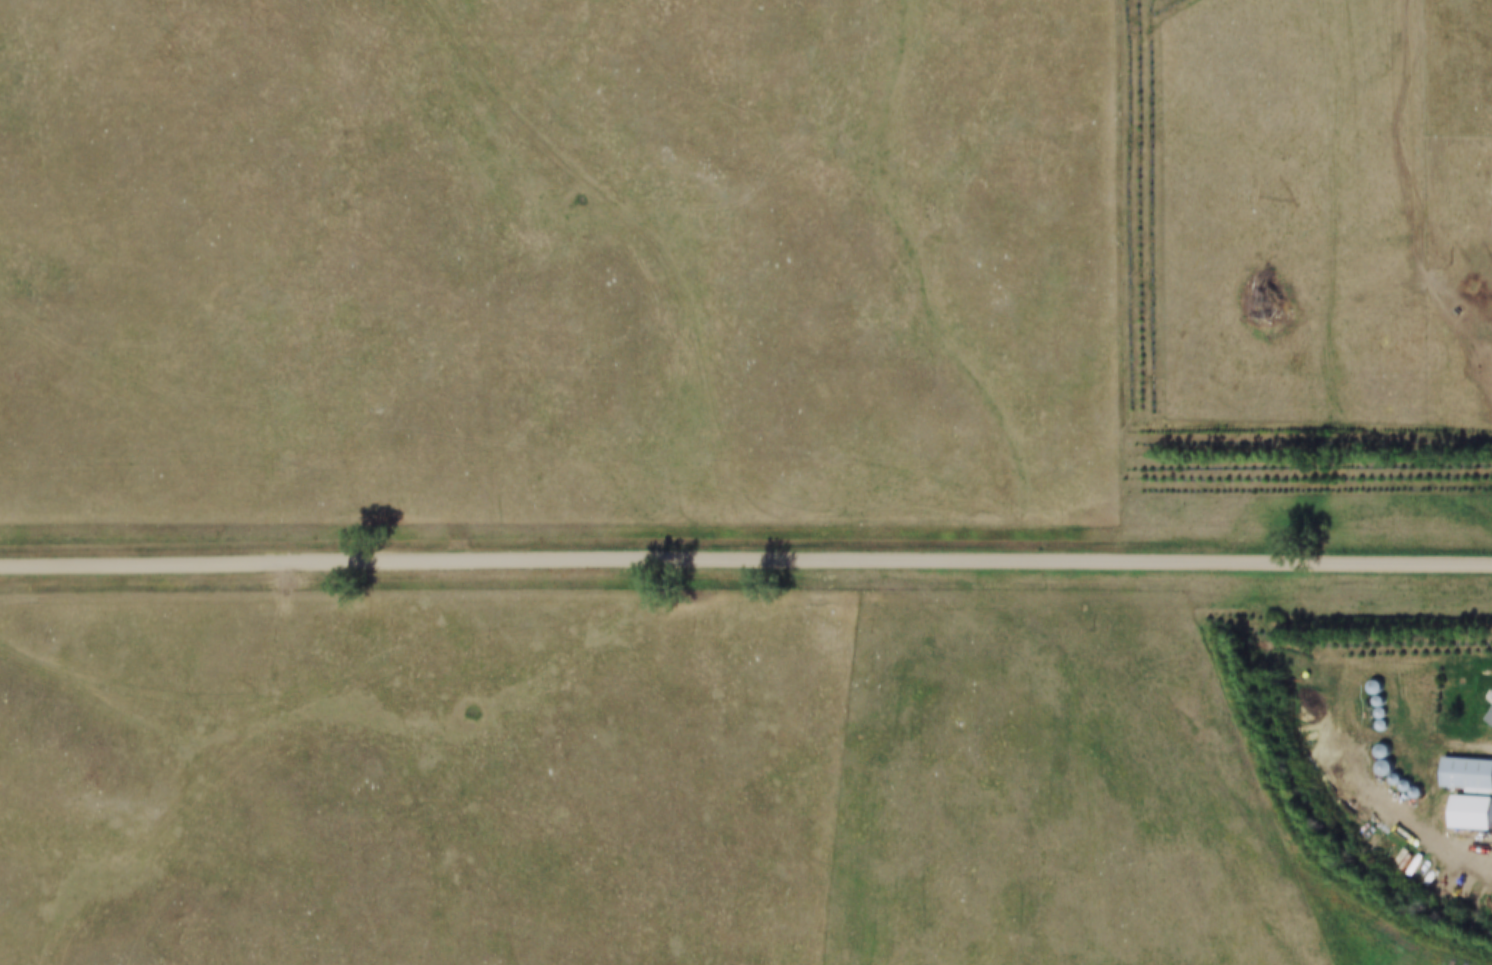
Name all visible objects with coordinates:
road: (746, 559)
building: (1489, 718)
building: (1464, 773)
building: (1467, 812)

